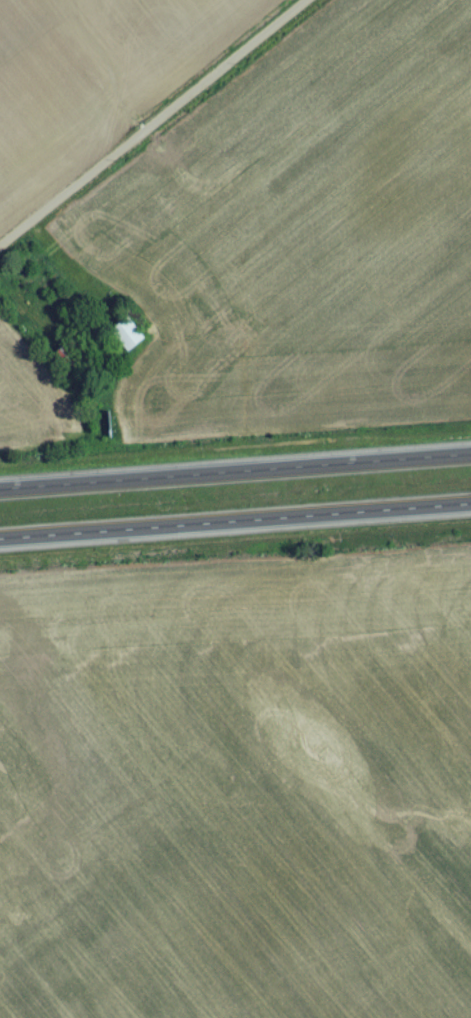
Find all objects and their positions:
road: (154, 124)
building: (129, 339)
building: (70, 365)
road: (235, 472)
road: (235, 525)

